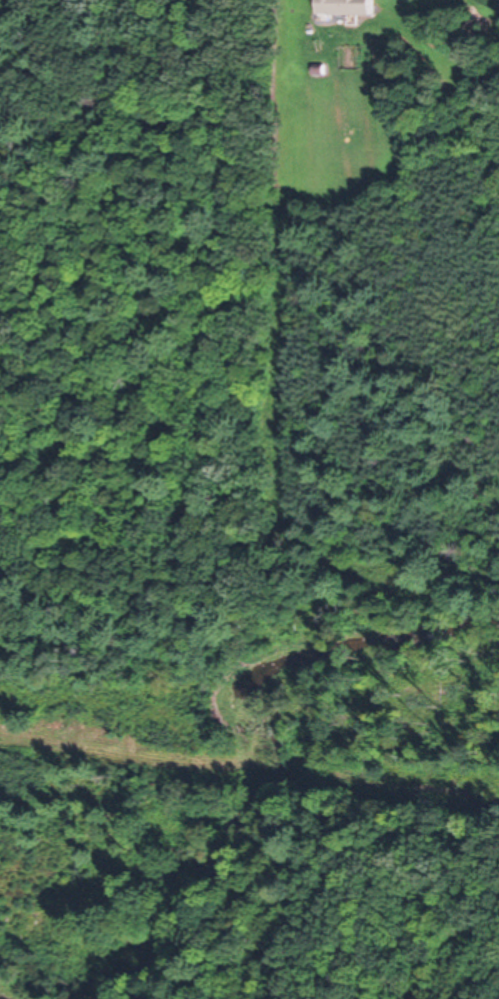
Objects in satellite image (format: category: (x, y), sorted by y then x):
building: (347, 7)
building: (281, 671)

